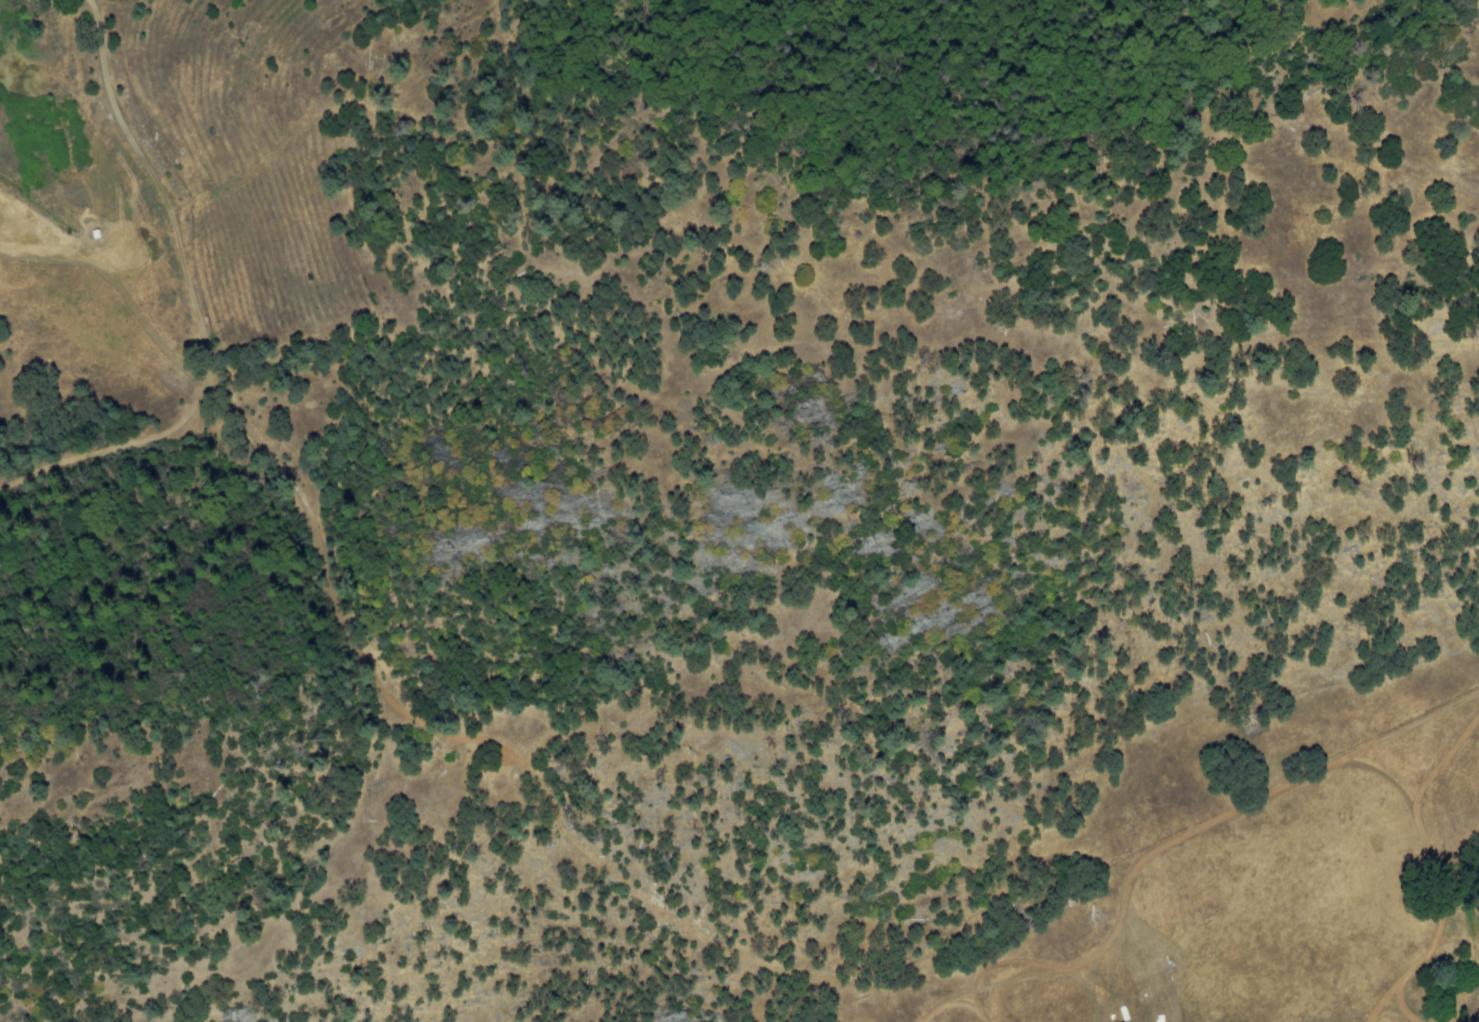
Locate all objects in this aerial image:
road: (187, 300)

